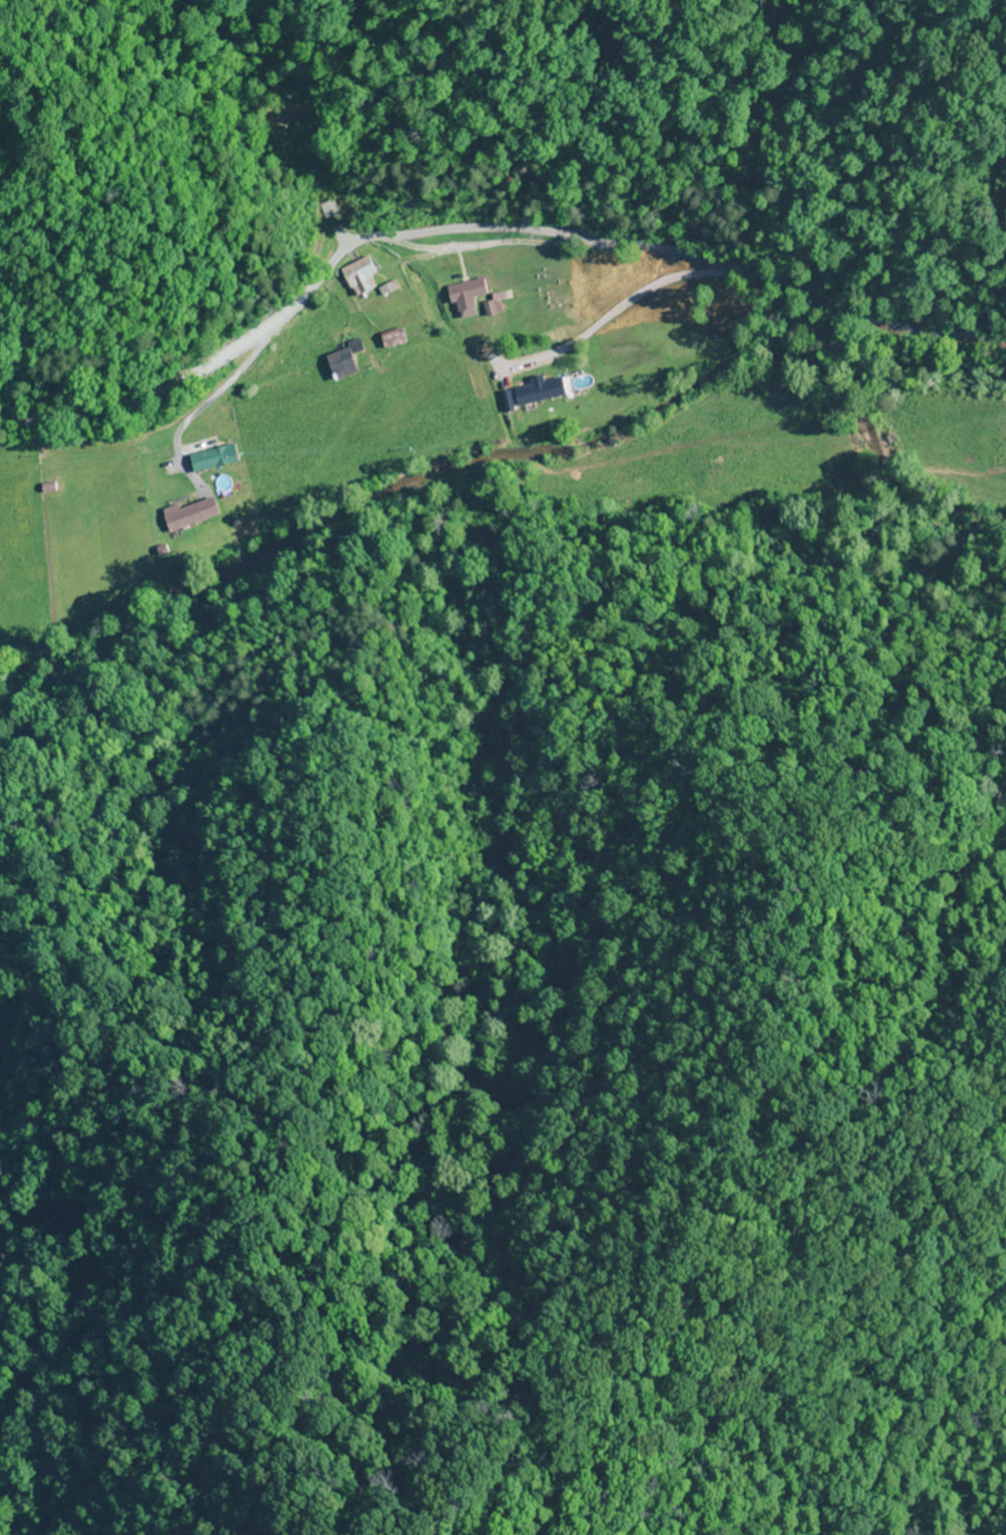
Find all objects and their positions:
road: (483, 231)
building: (356, 277)
building: (463, 298)
building: (390, 340)
building: (339, 362)
building: (535, 392)
building: (998, 448)
building: (210, 459)
building: (46, 489)
building: (188, 514)

